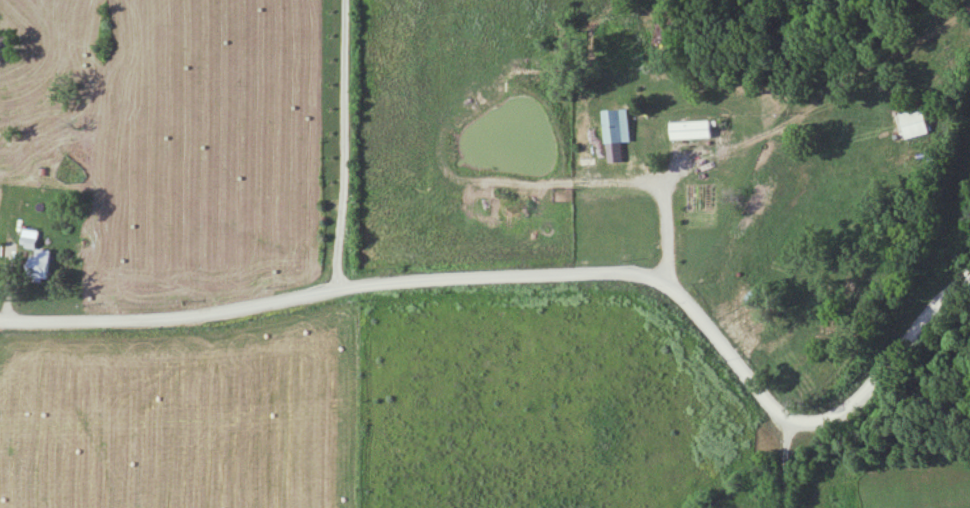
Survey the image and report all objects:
building: (911, 124)
building: (614, 129)
building: (689, 131)
road: (346, 146)
park: (938, 166)
road: (668, 216)
building: (42, 265)
road: (549, 280)
road: (790, 468)

